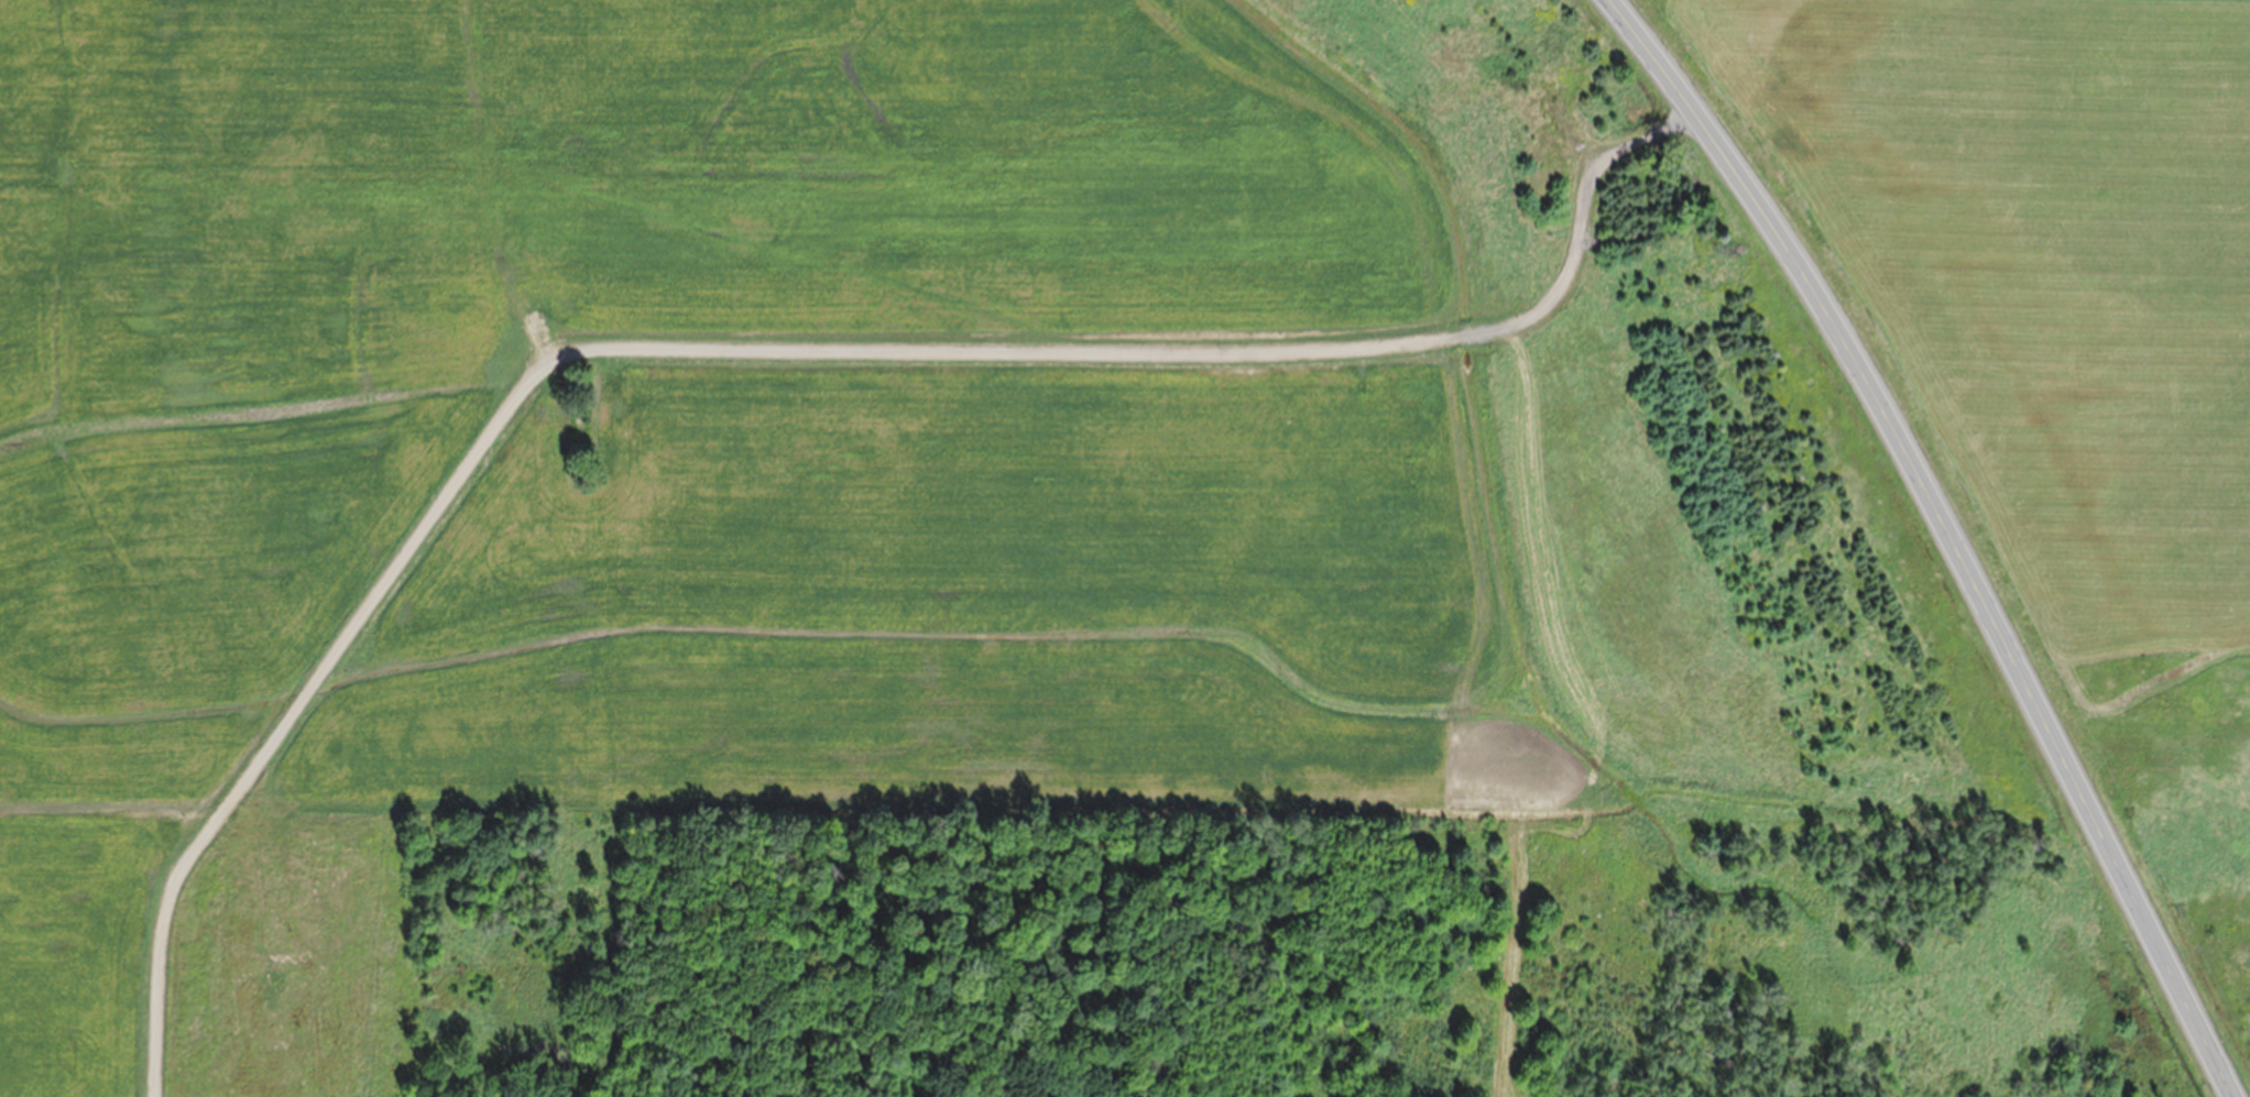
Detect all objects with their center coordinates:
road: (750, 349)
road: (1945, 533)
landfill: (909, 549)

